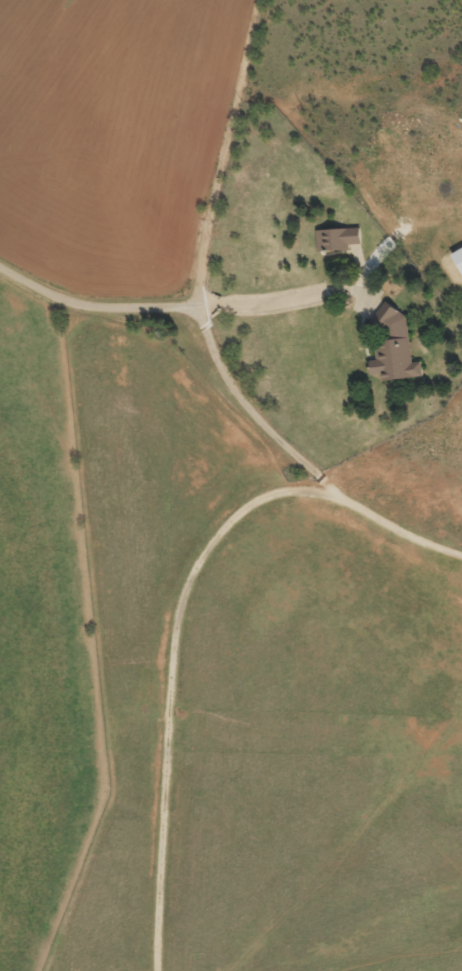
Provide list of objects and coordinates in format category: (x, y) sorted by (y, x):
road: (233, 109)
building: (337, 238)
building: (458, 257)
road: (189, 305)
building: (394, 346)
road: (223, 363)
road: (334, 488)
road: (182, 610)

